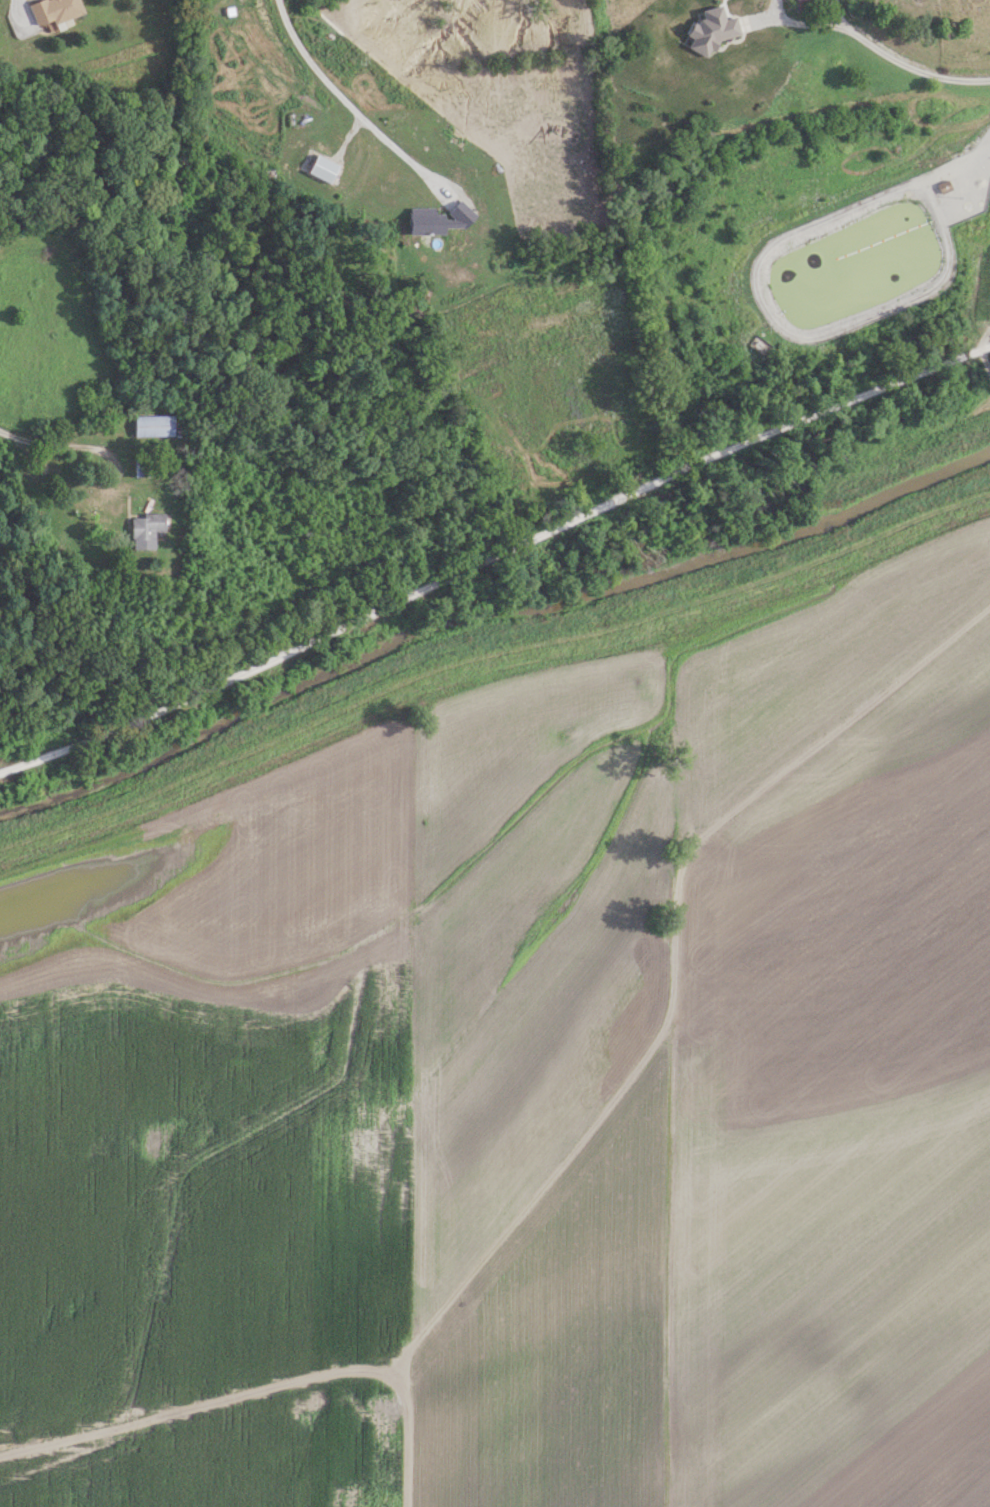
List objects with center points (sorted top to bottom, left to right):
building: (805, 5)
building: (54, 10)
road: (905, 68)
road: (343, 101)
road: (347, 132)
road: (977, 154)
building: (945, 186)
road: (988, 348)
building: (153, 425)
road: (8, 435)
building: (142, 466)
road: (118, 473)
building: (146, 530)
road: (494, 557)
road: (588, 1131)

